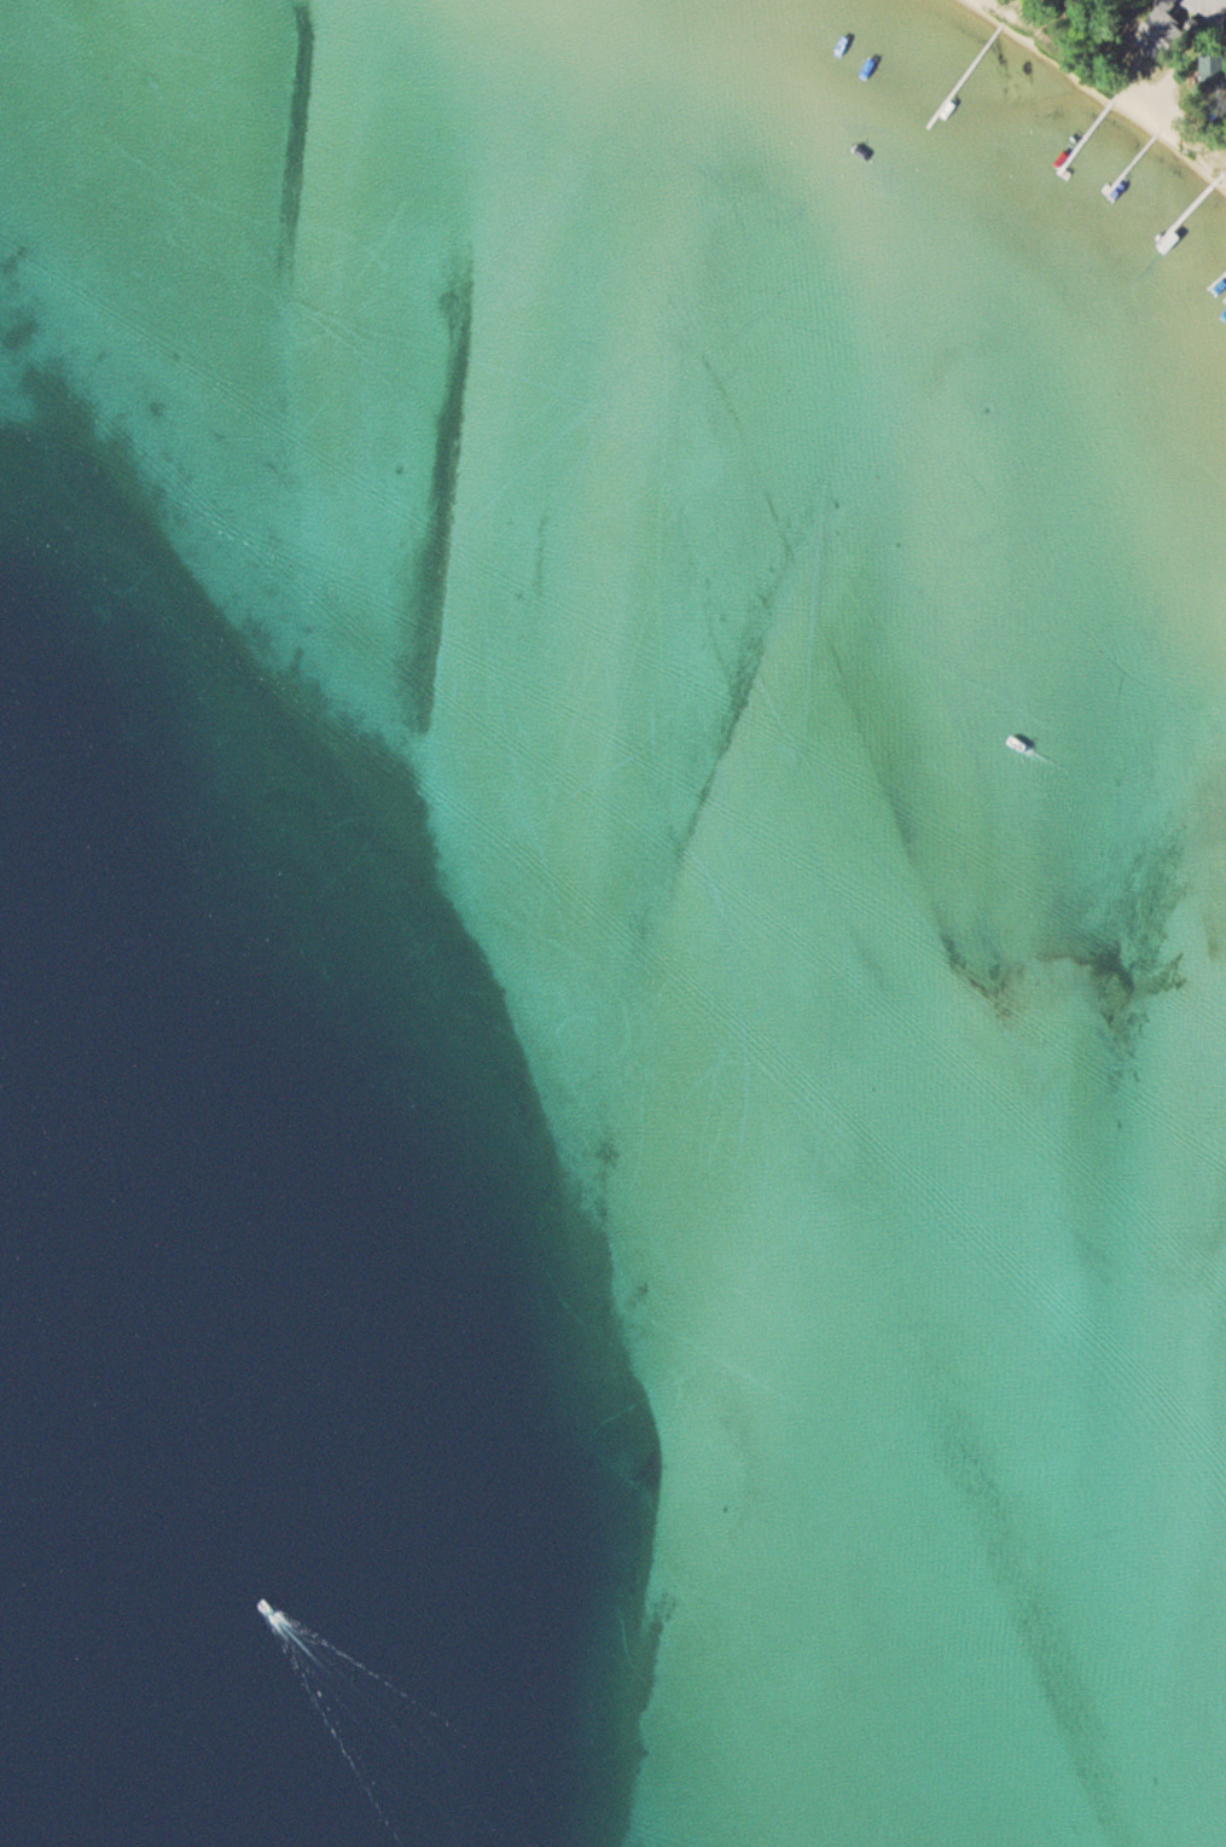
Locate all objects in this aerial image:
building: (1161, 30)

